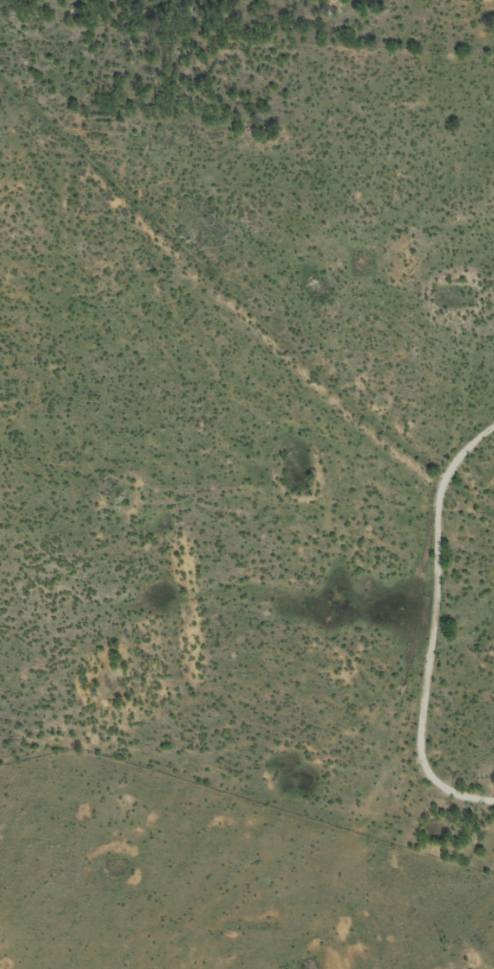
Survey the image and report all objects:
road: (410, 729)

